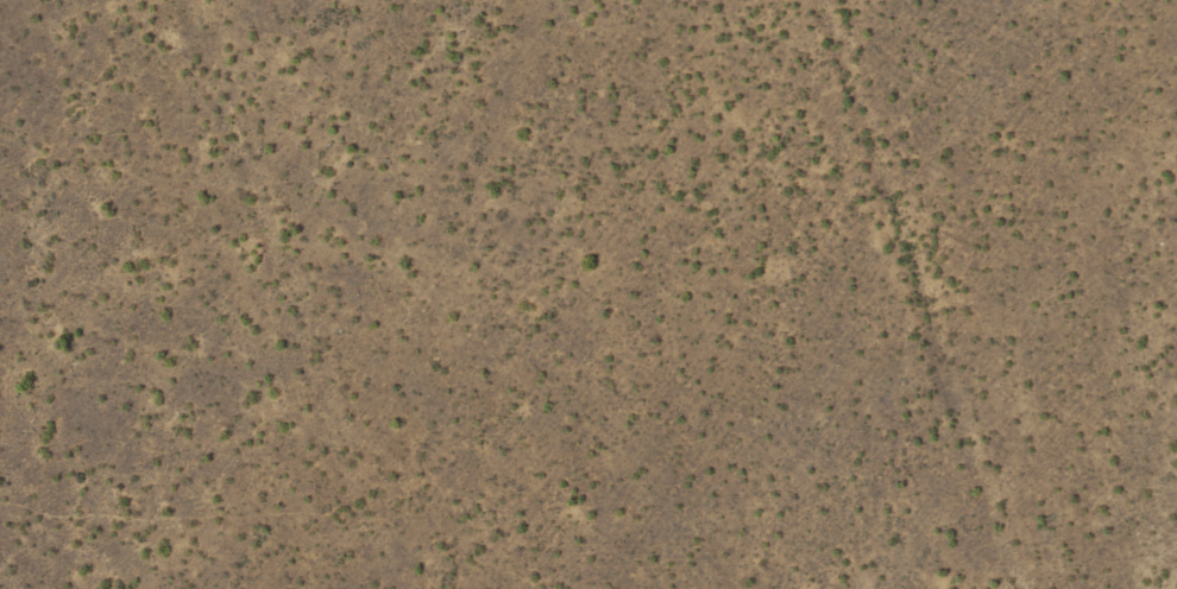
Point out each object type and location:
road: (920, 293)

